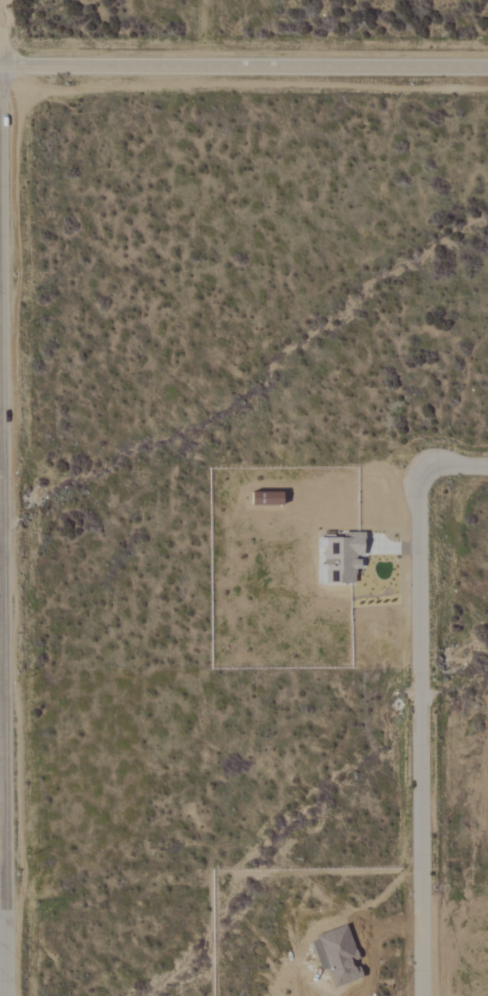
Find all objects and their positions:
road: (244, 66)
road: (2, 453)
building: (343, 559)
road: (5, 596)
road: (3, 690)
road: (418, 699)
road: (4, 886)

